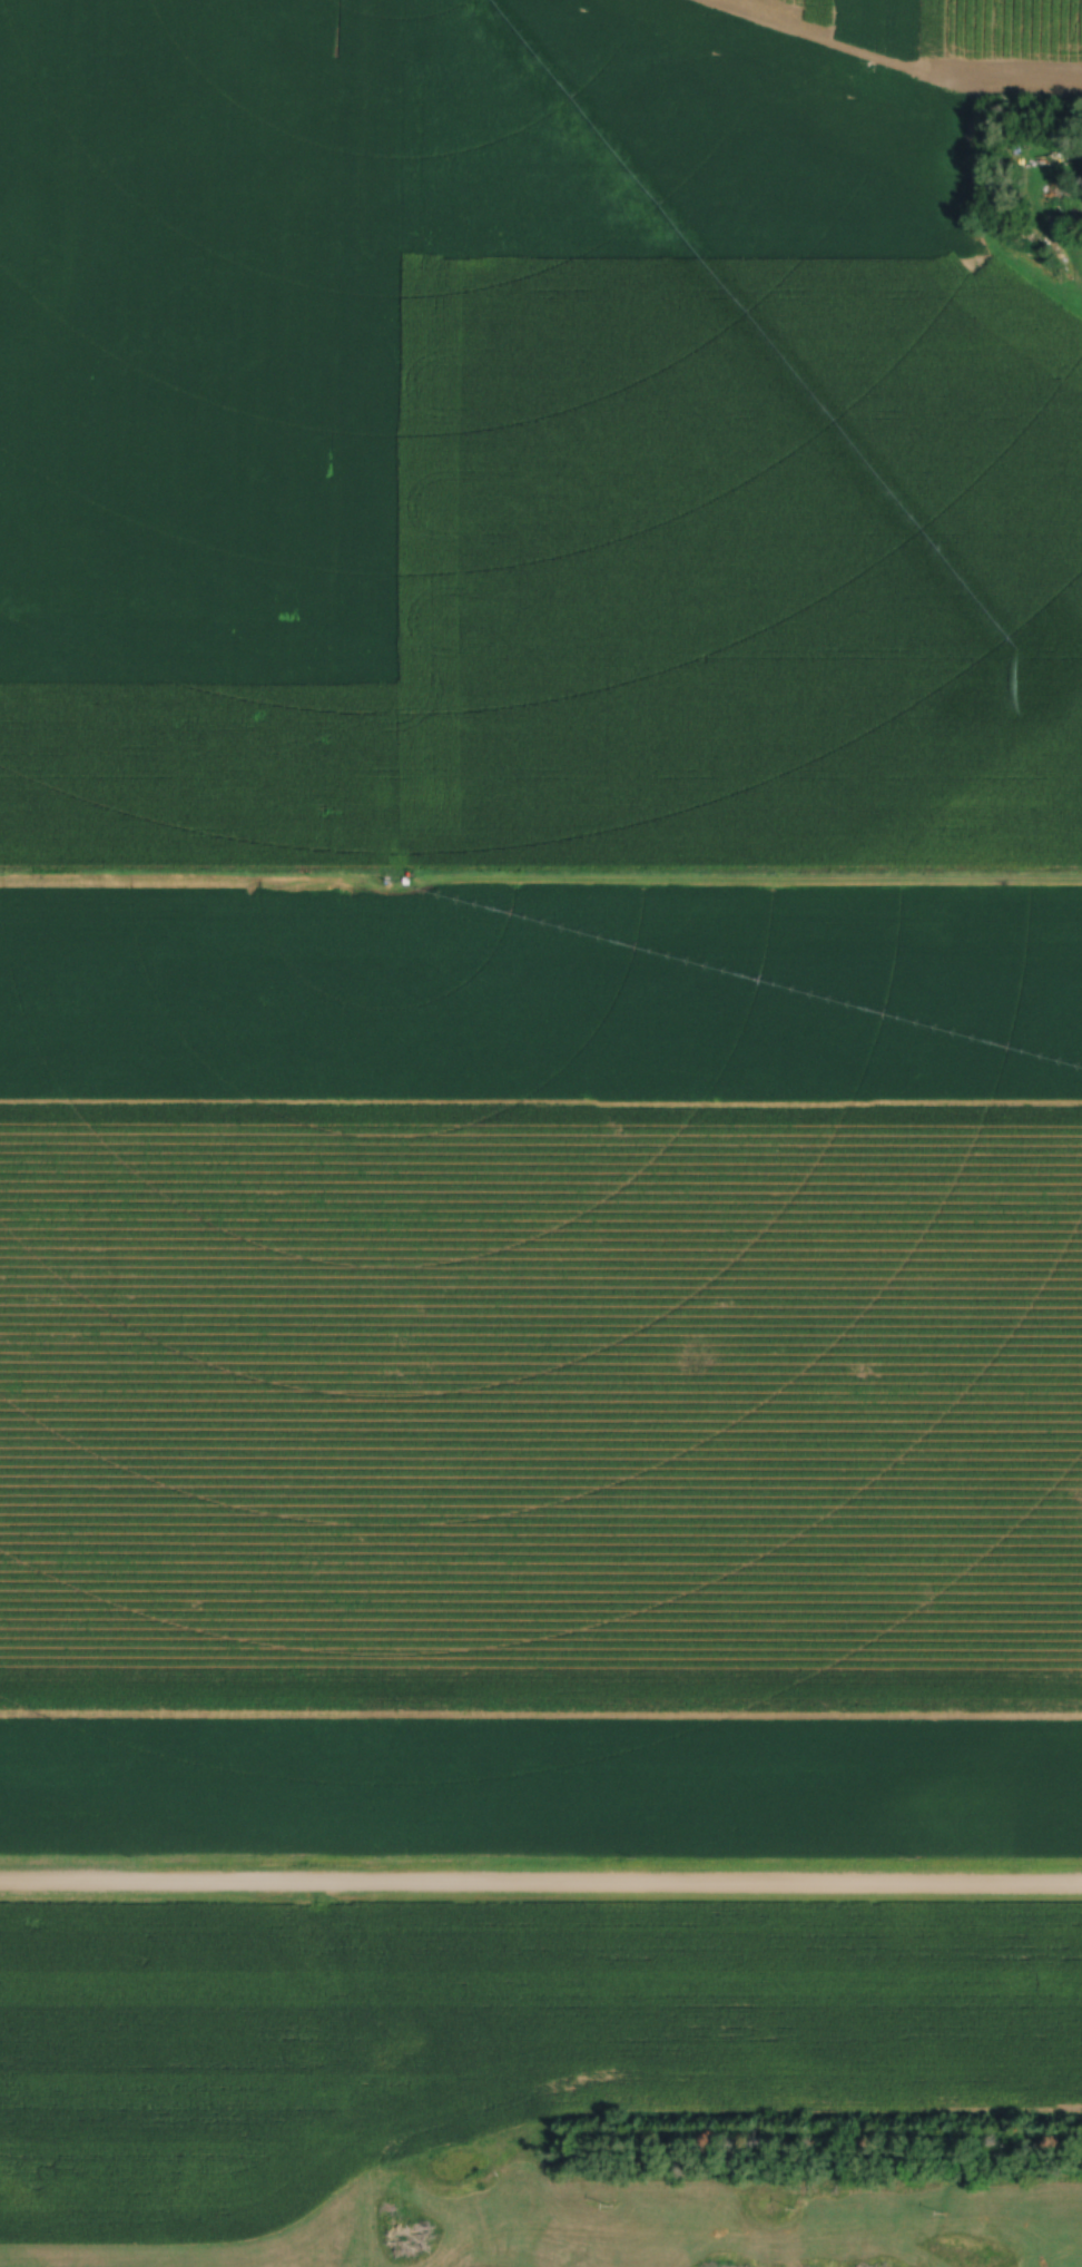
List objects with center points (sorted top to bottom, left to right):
road: (540, 1886)

